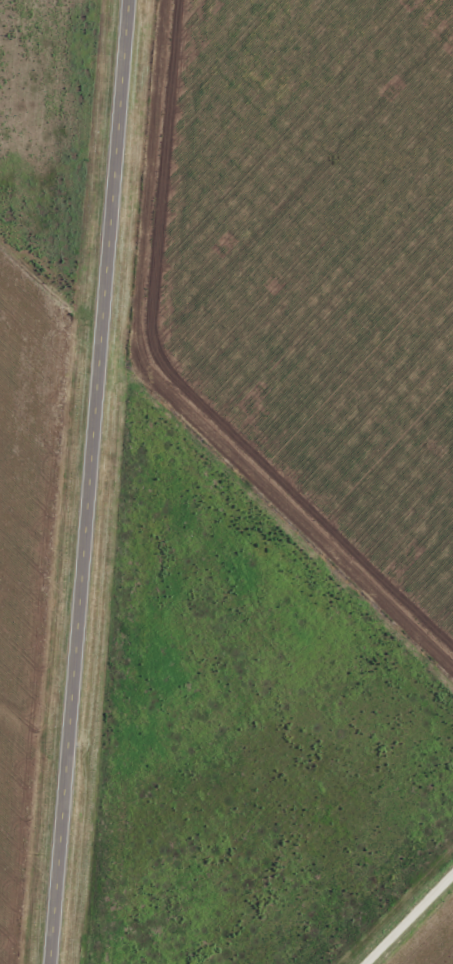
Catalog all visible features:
road: (87, 482)
road: (409, 919)

